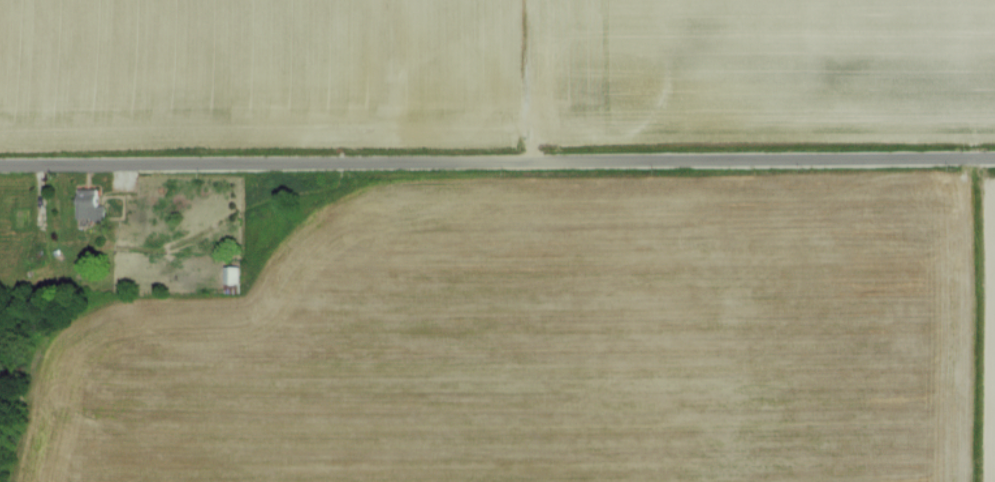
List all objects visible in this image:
road: (497, 164)
building: (87, 204)

